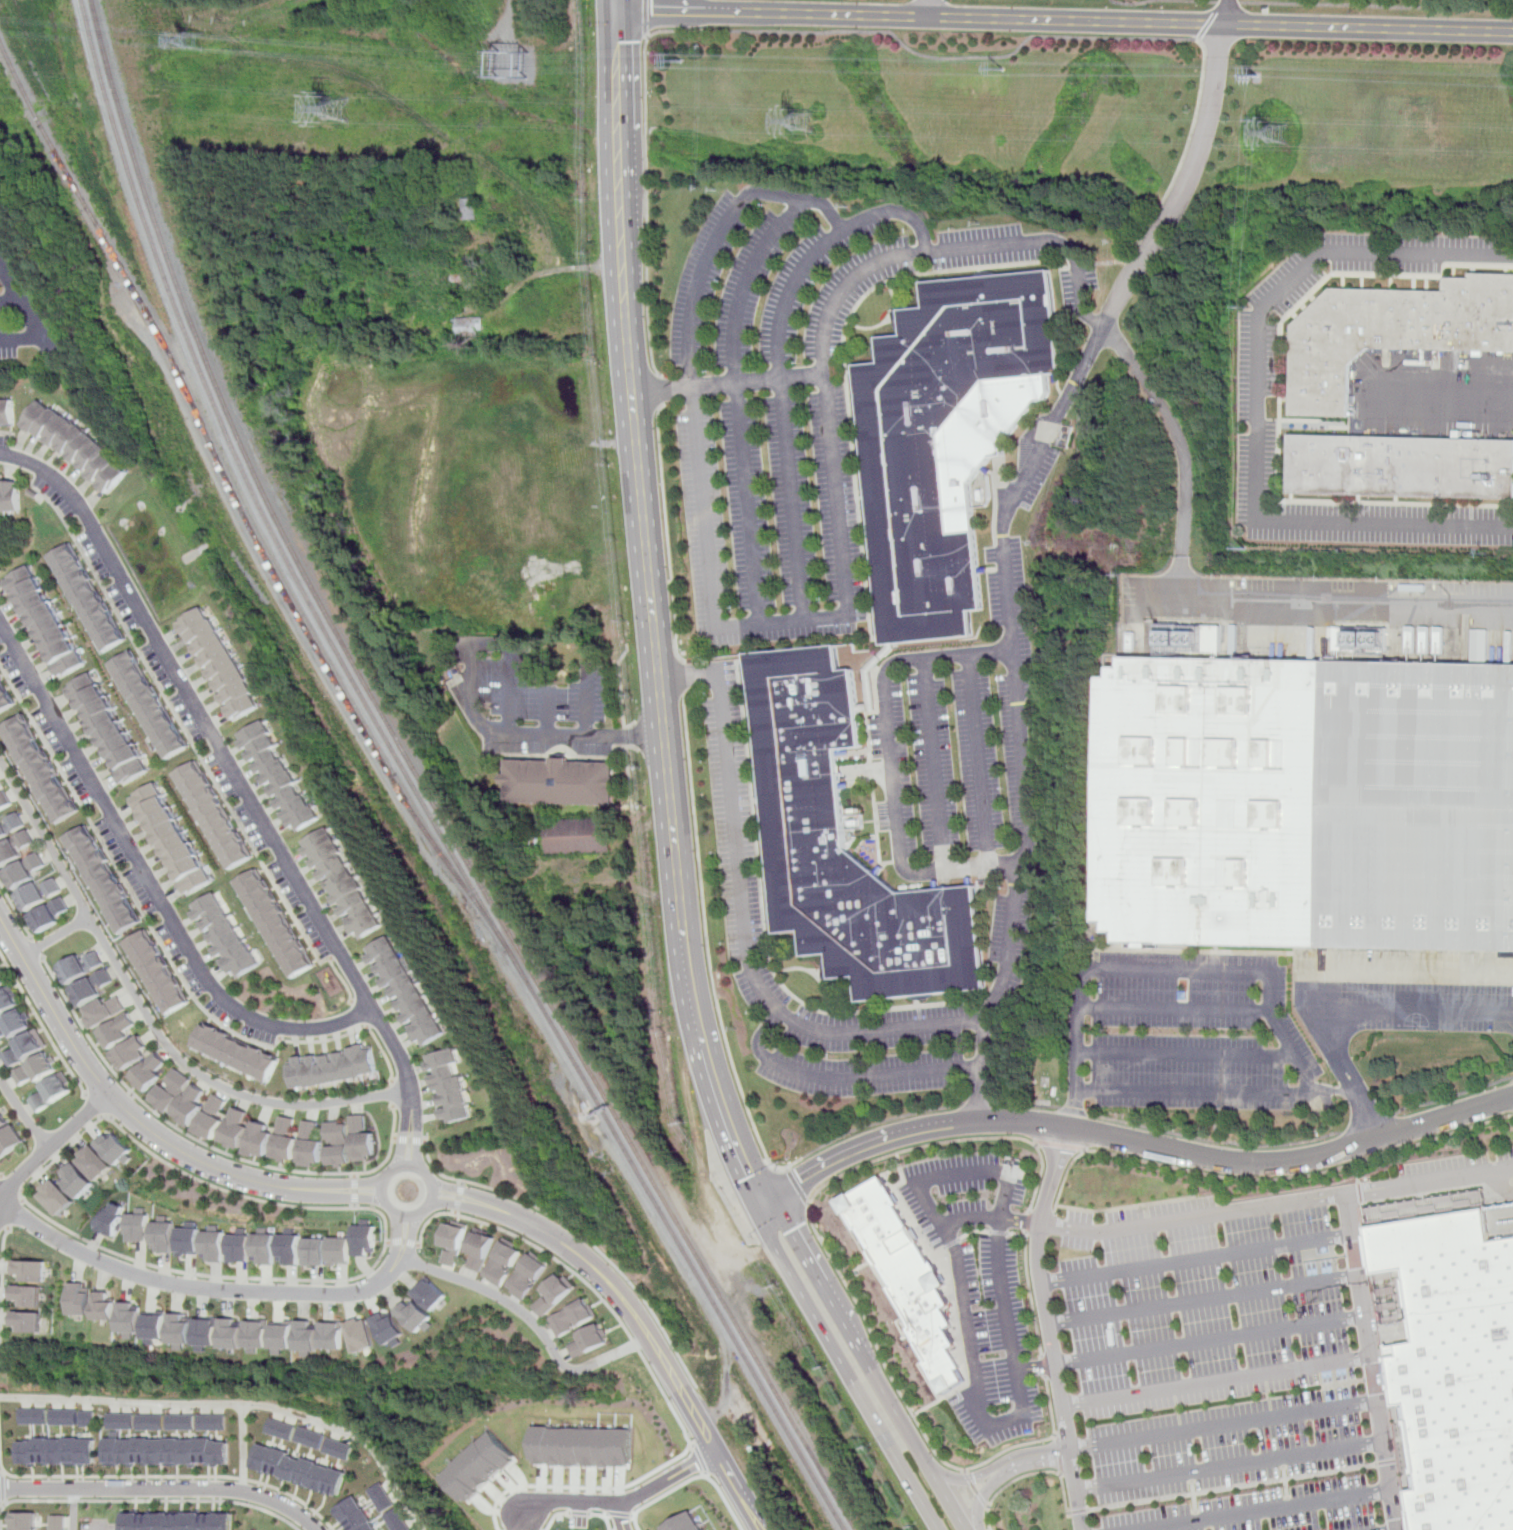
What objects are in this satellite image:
road: (1161, 0)
road: (1227, 3)
road: (613, 5)
road: (1375, 6)
road: (929, 8)
traffic signals: (614, 10)
road: (653, 10)
road: (700, 11)
road: (724, 11)
road: (645, 16)
road: (1127, 20)
road: (1209, 21)
power tower: (200, 45)
road: (950, 58)
power tower: (696, 68)
power tower: (519, 70)
power tower: (1019, 74)
power tower: (1257, 82)
road: (616, 84)
power tower: (349, 115)
power tower: (815, 127)
power tower: (1271, 139)
road: (646, 177)
road: (1174, 178)
building: (471, 209)
road: (1169, 214)
road: (620, 231)
road: (953, 249)
road: (708, 256)
building: (467, 278)
road: (11, 301)
road: (33, 319)
building: (471, 325)
building: (1392, 332)
road: (778, 357)
parking lot: (1259, 359)
road: (736, 377)
road: (661, 390)
road: (663, 391)
parking lot: (793, 397)
road: (1447, 398)
road: (1257, 406)
building: (7, 414)
building: (75, 445)
road: (1187, 446)
parking lot: (1031, 465)
building: (1400, 466)
building: (902, 484)
building: (10, 493)
railway: (241, 501)
road: (669, 534)
building: (87, 597)
road: (1320, 597)
road: (653, 615)
road: (846, 616)
building: (47, 621)
building: (1480, 645)
building: (221, 663)
road: (729, 670)
road: (687, 675)
road: (621, 689)
road: (589, 698)
building: (4, 701)
parking lot: (528, 701)
building: (150, 705)
road: (550, 709)
road: (477, 713)
building: (110, 728)
road: (636, 738)
parking lot: (961, 745)
road: (197, 749)
road: (978, 761)
road: (893, 762)
road: (1024, 763)
road: (934, 764)
road: (230, 765)
building: (40, 769)
road: (630, 770)
building: (278, 777)
building: (564, 782)
building: (0, 784)
railway: (415, 788)
railway: (425, 788)
building: (804, 800)
building: (4, 801)
building: (1306, 803)
building: (215, 816)
building: (582, 837)
building: (174, 838)
building: (13, 839)
building: (24, 871)
building: (105, 880)
road: (150, 882)
building: (342, 884)
building: (38, 893)
parking lot: (740, 895)
road: (16, 909)
building: (51, 914)
road: (740, 922)
building: (275, 924)
road: (767, 925)
road: (56, 936)
building: (226, 936)
road: (32, 939)
road: (162, 945)
parking lot: (1010, 945)
road: (37, 950)
road: (709, 950)
building: (82, 966)
building: (158, 972)
road: (1182, 972)
building: (3, 977)
building: (91, 987)
road: (690, 987)
building: (405, 992)
parking lot: (1402, 992)
building: (8, 1000)
road: (1340, 1007)
road: (1174, 1008)
building: (105, 1010)
road: (358, 1013)
road: (803, 1015)
road: (148, 1016)
road: (919, 1017)
building: (14, 1024)
road: (42, 1025)
building: (119, 1031)
parking lot: (1196, 1033)
building: (24, 1048)
building: (236, 1052)
building: (131, 1053)
road: (1186, 1054)
building: (333, 1067)
building: (34, 1069)
building: (151, 1073)
road: (1512, 1076)
road: (842, 1079)
building: (448, 1088)
building: (172, 1090)
road: (1197, 1091)
building: (50, 1093)
road: (395, 1094)
road: (1450, 1096)
building: (191, 1104)
road: (980, 1104)
road: (1025, 1104)
road: (95, 1105)
road: (122, 1108)
road: (123, 1108)
road: (1068, 1109)
road: (23, 1115)
road: (103, 1117)
building: (213, 1117)
building: (2, 1122)
road: (880, 1122)
road: (1367, 1122)
road: (729, 1126)
building: (236, 1129)
building: (259, 1139)
building: (361, 1139)
building: (9, 1140)
building: (286, 1140)
road: (409, 1140)
road: (416, 1141)
road: (951, 1141)
road: (202, 1142)
road: (1215, 1142)
road: (401, 1143)
building: (310, 1144)
building: (338, 1144)
road: (1061, 1145)
road: (867, 1146)
road: (48, 1149)
building: (116, 1149)
road: (155, 1154)
building: (96, 1163)
road: (1250, 1163)
road: (886, 1173)
traffic signals: (751, 1176)
road: (1, 1177)
road: (1232, 1178)
traffic signals: (800, 1179)
building: (77, 1180)
road: (359, 1183)
road: (10, 1186)
road: (797, 1186)
road: (356, 1190)
road: (459, 1190)
parking lot: (963, 1192)
road: (22, 1194)
road: (386, 1197)
road: (458, 1197)
road: (358, 1198)
building: (57, 1199)
road: (2, 1200)
road: (23, 1202)
road: (1275, 1204)
road: (457, 1206)
road: (907, 1208)
road: (1094, 1211)
road: (13, 1213)
road: (992, 1219)
building: (113, 1220)
road: (1029, 1221)
building: (139, 1225)
traffic signals: (793, 1229)
road: (974, 1230)
road: (999, 1231)
road: (1018, 1233)
road: (396, 1234)
building: (164, 1235)
road: (578, 1235)
road: (410, 1236)
building: (365, 1238)
building: (189, 1239)
building: (453, 1241)
road: (403, 1242)
road: (952, 1243)
building: (214, 1244)
building: (239, 1246)
building: (264, 1247)
building: (480, 1248)
building: (289, 1249)
building: (314, 1250)
building: (340, 1250)
road: (1197, 1259)
building: (503, 1261)
road: (855, 1269)
building: (30, 1271)
building: (526, 1276)
building: (905, 1276)
road: (584, 1281)
road: (824, 1285)
road: (198, 1288)
building: (554, 1293)
building: (431, 1294)
road: (618, 1294)
road: (1032, 1294)
building: (28, 1296)
road: (1361, 1297)
road: (1203, 1298)
building: (81, 1299)
road: (2, 1300)
building: (107, 1306)
road: (956, 1315)
building: (417, 1316)
building: (572, 1317)
building: (131, 1319)
road: (533, 1320)
road: (816, 1320)
building: (27, 1322)
building: (156, 1327)
building: (181, 1328)
building: (390, 1328)
road: (1048, 1328)
building: (206, 1332)
building: (231, 1332)
building: (257, 1334)
building: (332, 1334)
building: (361, 1334)
building: (307, 1336)
building: (282, 1337)
building: (588, 1340)
parking lot: (993, 1340)
road: (1208, 1340)
building: (1455, 1364)
road: (1043, 1366)
parking lot: (1215, 1366)
road: (1035, 1367)
road: (1214, 1380)
road: (1020, 1395)
road: (940, 1399)
road: (239, 1404)
road: (893, 1404)
road: (913, 1414)
building: (33, 1416)
building: (63, 1416)
road: (1284, 1416)
building: (87, 1418)
building: (121, 1421)
building: (151, 1422)
building: (181, 1422)
building: (212, 1422)
building: (278, 1429)
building: (187, 1434)
building: (308, 1438)
building: (582, 1446)
road: (242, 1448)
building: (335, 1448)
building: (56, 1451)
building: (166, 1451)
road: (1056, 1453)
road: (1031, 1457)
road: (700, 1459)
road: (1228, 1465)
building: (480, 1467)
road: (0, 1471)
building: (296, 1471)
road: (0, 1473)
road: (706, 1474)
road: (1027, 1474)
road: (173, 1476)
road: (969, 1478)
road: (966, 1479)
road: (690, 1480)
road: (732, 1480)
road: (938, 1481)
road: (1283, 1481)
road: (910, 1482)
road: (542, 1485)
road: (1231, 1487)
road: (0, 1488)
road: (975, 1488)
road: (160, 1490)
road: (1191, 1496)
building: (381, 1497)
road: (982, 1498)
road: (982, 1499)
road: (152, 1500)
road: (1, 1504)
road: (617, 1504)
road: (1, 1506)
road: (74, 1510)
road: (1265, 1510)
road: (1076, 1511)
road: (579, 1512)
road: (620, 1515)
building: (355, 1516)
road: (556, 1516)
road: (603, 1516)
road: (620, 1518)
building: (397, 1520)
building: (178, 1521)
building: (22, 1522)
building: (56, 1522)
building: (683, 1523)
road: (99, 1526)
parking lot: (100, 1526)

